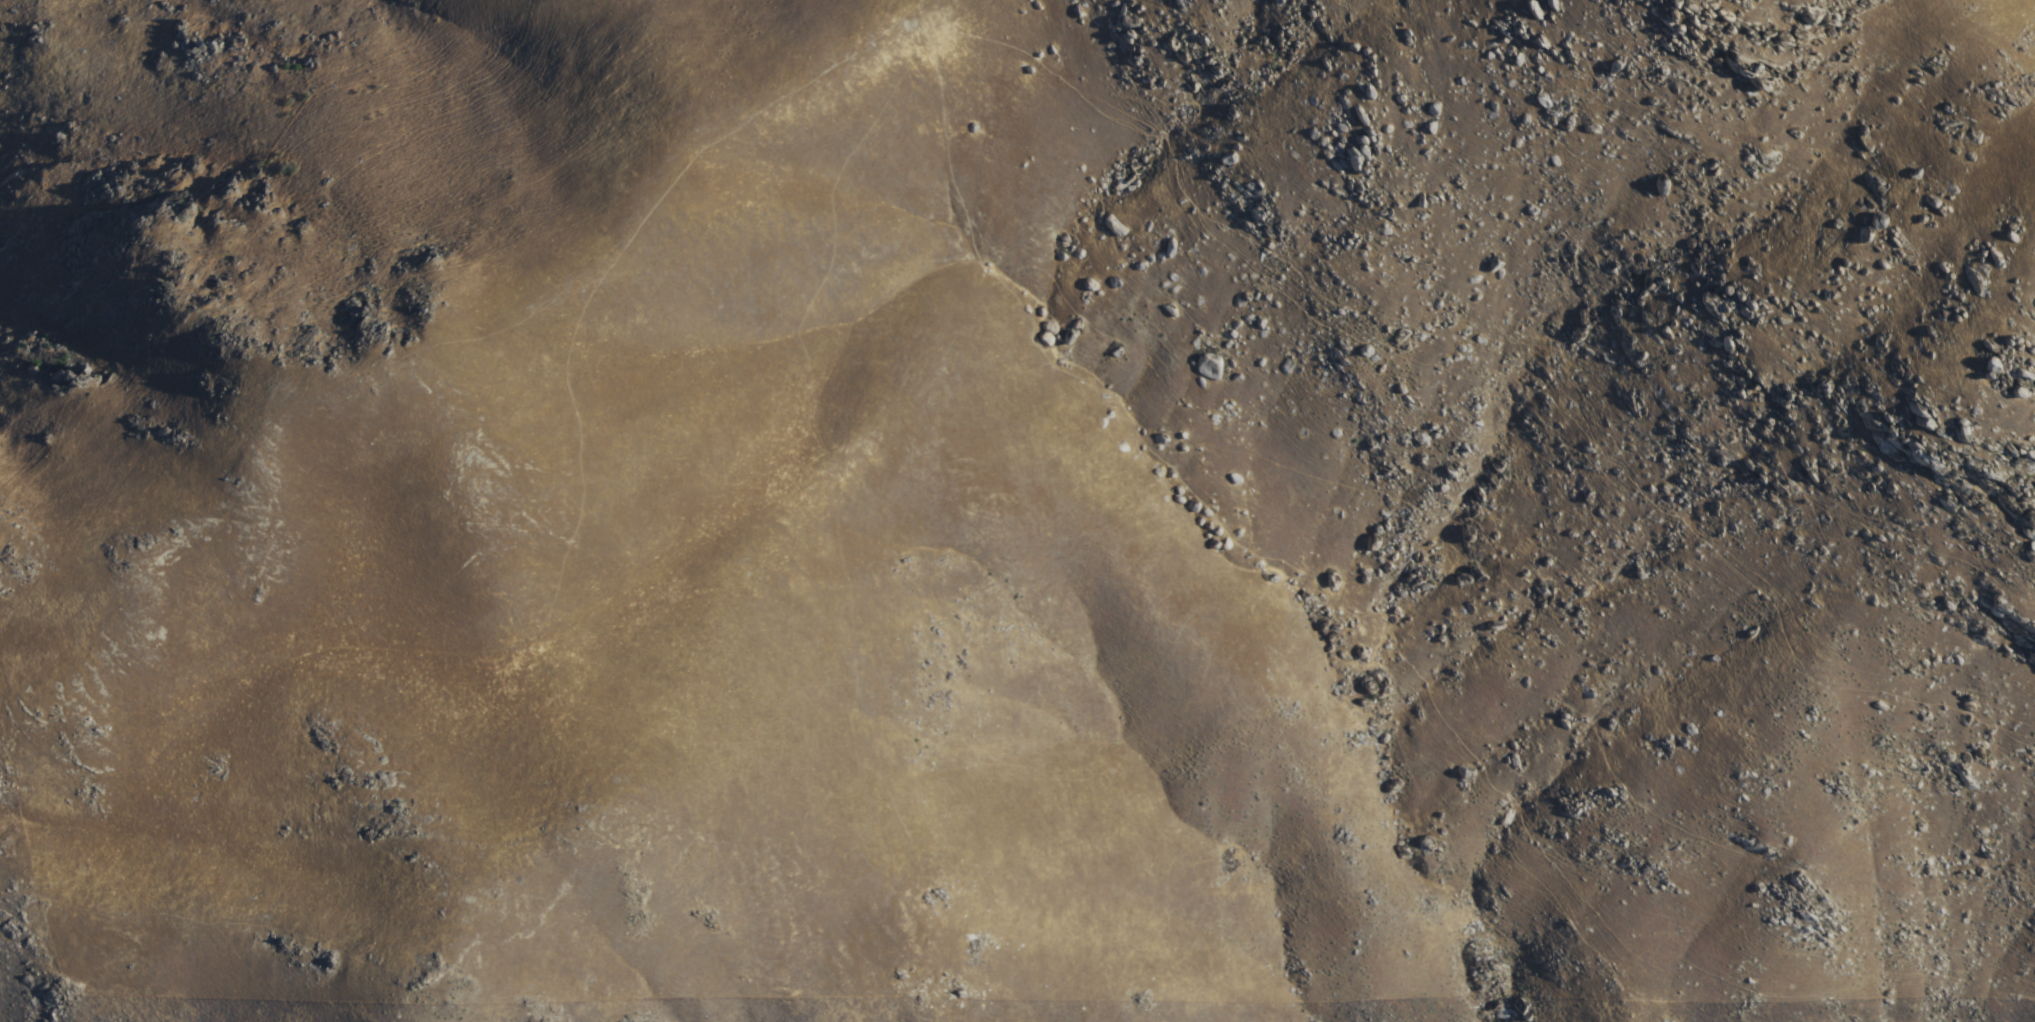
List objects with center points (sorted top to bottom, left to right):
building: (1878, 222)

